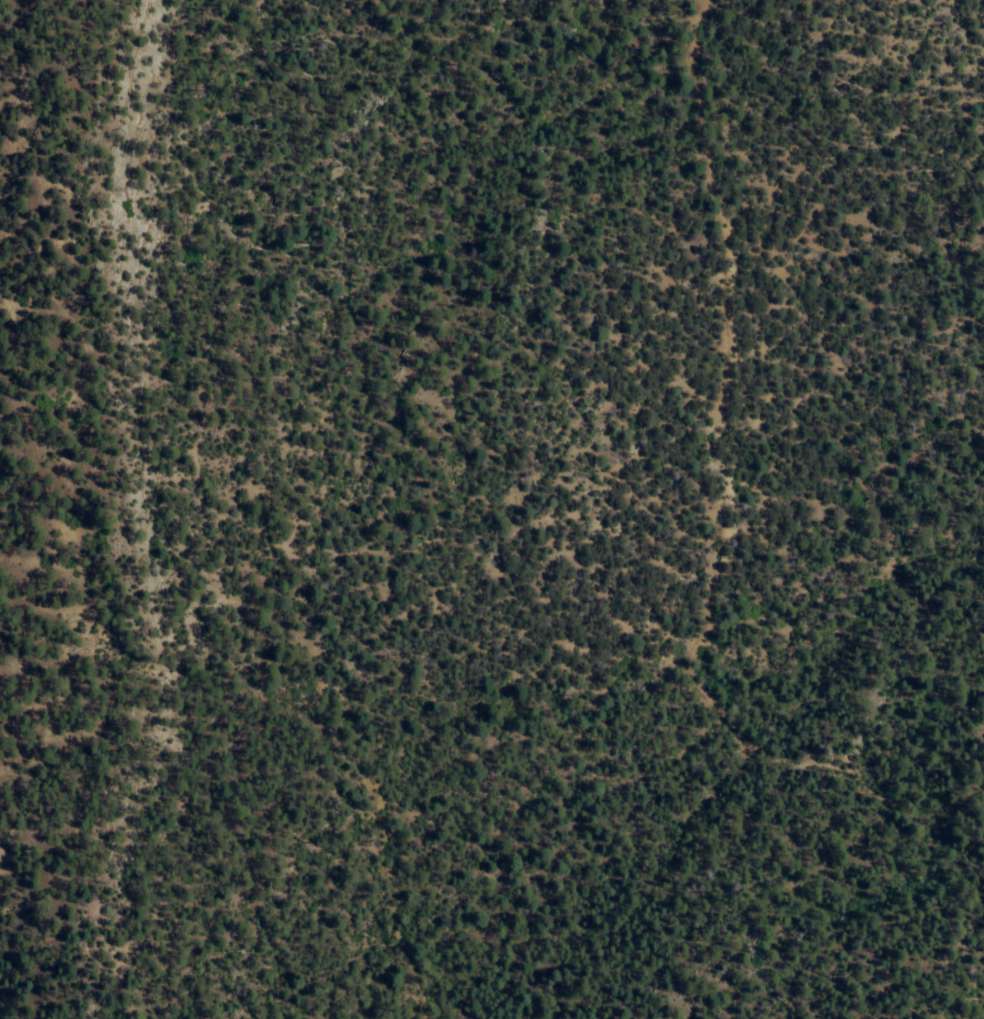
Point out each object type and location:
road: (691, 503)
road: (979, 1009)

